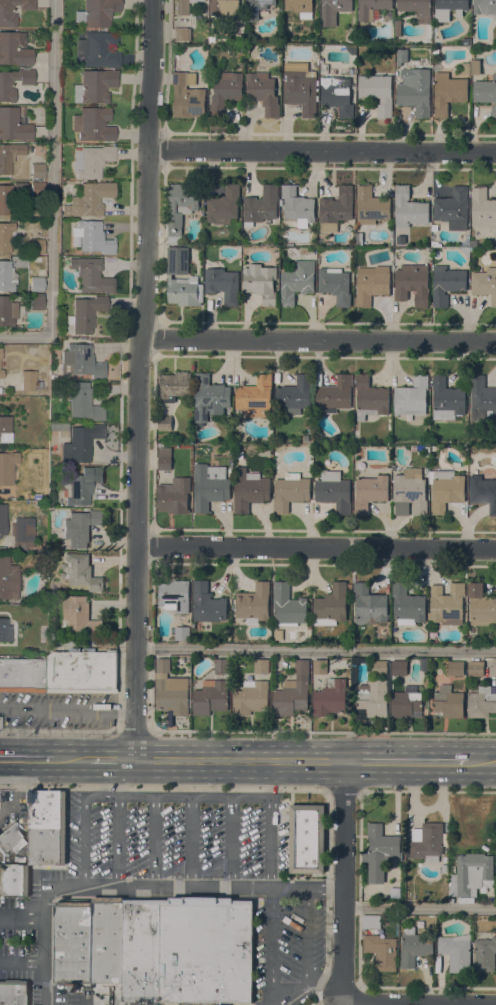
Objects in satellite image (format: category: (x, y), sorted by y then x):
building: (183, 6)
building: (224, 7)
building: (300, 7)
building: (484, 7)
building: (257, 8)
building: (371, 8)
building: (448, 8)
building: (416, 9)
building: (333, 11)
building: (96, 13)
building: (8, 21)
building: (181, 34)
building: (14, 49)
building: (97, 49)
building: (351, 50)
building: (402, 55)
building: (475, 67)
building: (323, 69)
building: (465, 69)
building: (94, 86)
building: (5, 87)
building: (300, 87)
building: (377, 90)
building: (414, 91)
building: (225, 92)
building: (263, 92)
building: (448, 92)
building: (486, 93)
building: (337, 95)
building: (187, 96)
building: (92, 124)
building: (13, 125)
road: (322, 150)
building: (9, 156)
building: (91, 161)
building: (37, 173)
building: (37, 189)
road: (51, 190)
building: (9, 197)
building: (88, 200)
building: (224, 206)
building: (261, 206)
building: (297, 206)
building: (371, 206)
building: (482, 208)
building: (180, 209)
building: (336, 209)
building: (409, 209)
building: (453, 209)
building: (434, 228)
building: (5, 237)
building: (92, 238)
building: (400, 239)
building: (358, 242)
building: (434, 243)
building: (36, 247)
building: (465, 251)
building: (90, 275)
building: (6, 277)
building: (181, 279)
building: (297, 281)
building: (261, 282)
building: (36, 284)
building: (371, 284)
building: (446, 284)
building: (484, 284)
building: (223, 285)
building: (335, 285)
building: (412, 285)
building: (36, 303)
building: (7, 311)
building: (85, 314)
road: (317, 340)
building: (80, 361)
building: (1, 374)
road: (136, 379)
building: (28, 381)
building: (174, 386)
building: (333, 394)
building: (294, 396)
building: (256, 397)
building: (412, 397)
building: (370, 398)
building: (447, 398)
building: (210, 399)
building: (482, 399)
building: (83, 402)
building: (164, 423)
building: (5, 424)
building: (59, 429)
building: (5, 438)
building: (80, 444)
building: (164, 458)
building: (7, 468)
building: (210, 486)
building: (82, 488)
building: (249, 490)
building: (446, 490)
building: (484, 490)
building: (290, 491)
building: (334, 491)
building: (370, 492)
building: (409, 494)
building: (174, 495)
building: (80, 528)
building: (20, 536)
road: (316, 547)
building: (82, 572)
building: (8, 579)
building: (174, 595)
building: (254, 602)
building: (207, 603)
building: (369, 605)
building: (407, 605)
building: (447, 605)
building: (288, 606)
building: (331, 606)
building: (481, 606)
building: (80, 615)
building: (5, 630)
building: (182, 633)
building: (279, 635)
road: (315, 648)
building: (423, 664)
building: (261, 666)
building: (320, 667)
building: (354, 668)
building: (379, 668)
building: (399, 668)
building: (455, 668)
building: (475, 668)
building: (61, 673)
building: (170, 691)
building: (293, 691)
building: (212, 692)
building: (250, 697)
building: (330, 698)
building: (373, 699)
building: (481, 701)
building: (448, 702)
building: (405, 705)
road: (67, 708)
building: (0, 722)
road: (58, 731)
road: (134, 731)
road: (323, 733)
road: (27, 760)
road: (72, 760)
road: (112, 760)
road: (238, 760)
road: (404, 762)
road: (481, 763)
road: (162, 789)
road: (344, 790)
road: (428, 790)
road: (326, 791)
road: (134, 796)
road: (271, 825)
building: (47, 827)
road: (292, 835)
building: (307, 839)
building: (11, 840)
parking lot: (177, 840)
road: (118, 841)
road: (155, 842)
road: (191, 842)
road: (231, 842)
building: (426, 842)
building: (379, 852)
road: (63, 858)
building: (444, 869)
building: (471, 875)
building: (14, 879)
road: (344, 879)
road: (203, 888)
building: (394, 892)
road: (281, 895)
road: (327, 900)
road: (117, 901)
road: (420, 907)
road: (23, 918)
building: (370, 922)
building: (420, 924)
road: (306, 937)
road: (45, 941)
building: (158, 947)
building: (414, 947)
road: (272, 948)
building: (381, 951)
building: (456, 952)
building: (484, 955)
road: (22, 963)
road: (14, 983)
road: (307, 983)
road: (41, 984)
building: (13, 992)
road: (395, 1004)

